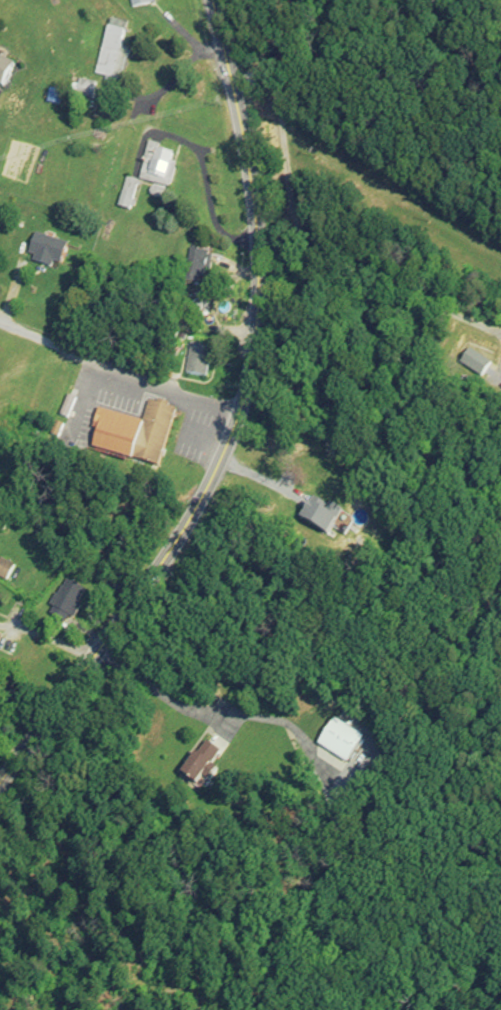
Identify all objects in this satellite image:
building: (139, 3)
road: (468, 14)
building: (108, 50)
building: (3, 74)
building: (83, 91)
building: (155, 166)
building: (125, 194)
road: (307, 244)
building: (44, 252)
building: (194, 267)
building: (195, 359)
road: (118, 369)
road: (234, 427)
building: (139, 438)
road: (268, 476)
building: (3, 569)
building: (63, 603)
road: (53, 637)
road: (220, 650)
building: (337, 743)
building: (198, 763)

